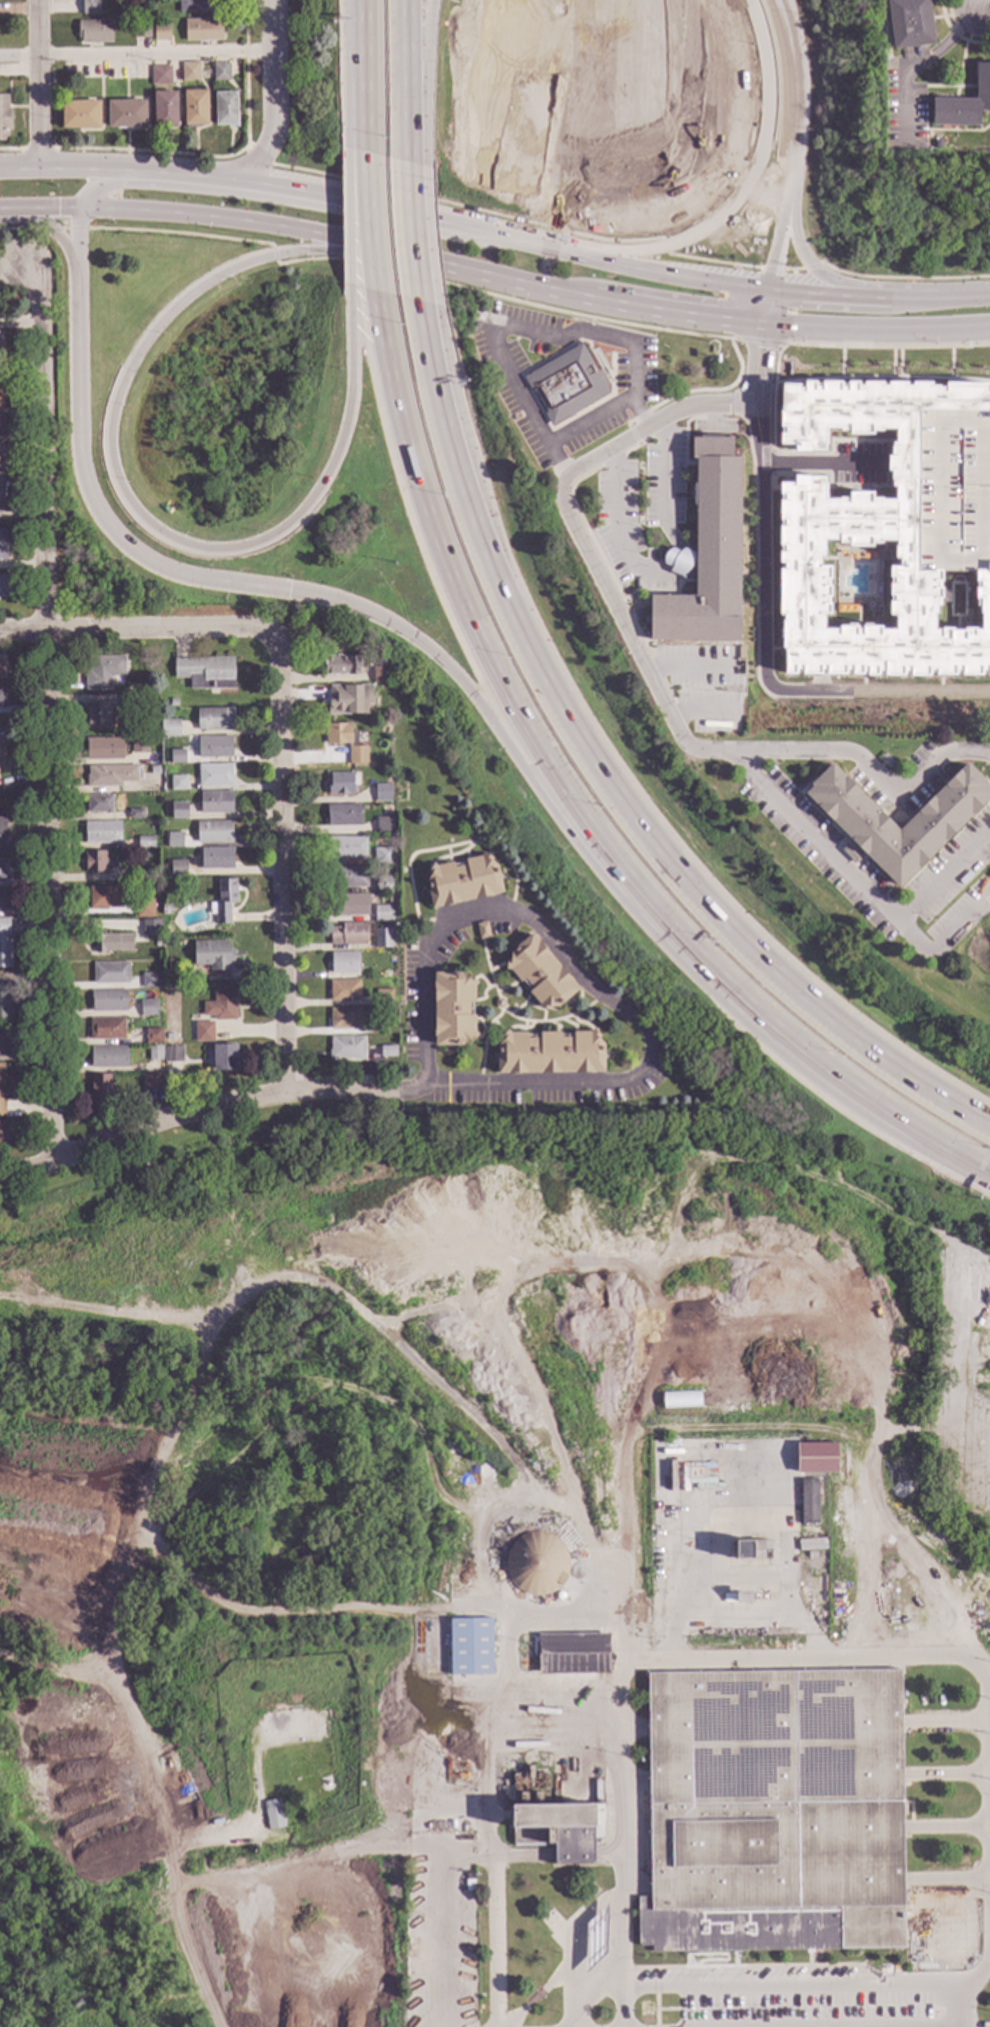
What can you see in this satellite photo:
road: (984, 1)
building: (197, 6)
building: (90, 7)
building: (909, 23)
building: (141, 31)
building: (203, 31)
building: (94, 32)
building: (161, 34)
road: (273, 38)
road: (156, 54)
road: (20, 57)
road: (924, 62)
road: (343, 69)
building: (189, 73)
building: (221, 73)
building: (160, 76)
road: (368, 76)
road: (40, 86)
building: (964, 104)
building: (194, 109)
building: (164, 110)
building: (225, 110)
building: (80, 115)
building: (126, 115)
building: (4, 119)
road: (347, 212)
traffic signals: (78, 213)
road: (373, 222)
road: (443, 222)
road: (383, 254)
road: (807, 267)
road: (904, 278)
traffic signals: (769, 289)
road: (937, 297)
building: (1, 303)
road: (766, 307)
road: (791, 320)
road: (21, 323)
traffic signals: (763, 326)
road: (522, 328)
road: (876, 332)
building: (1, 343)
road: (890, 346)
building: (567, 384)
building: (0, 399)
road: (591, 425)
building: (1, 426)
building: (2, 454)
road: (823, 463)
road: (660, 475)
building: (1, 489)
parking garage: (953, 493)
road: (610, 514)
building: (886, 518)
building: (2, 545)
building: (706, 555)
traffic signals: (304, 584)
building: (2, 587)
road: (125, 627)
road: (762, 654)
building: (341, 665)
building: (1, 668)
road: (642, 669)
building: (103, 673)
building: (205, 673)
building: (380, 673)
road: (683, 674)
building: (397, 683)
building: (1, 699)
building: (348, 699)
building: (128, 701)
building: (173, 703)
road: (44, 715)
building: (96, 716)
road: (696, 718)
building: (214, 720)
building: (169, 729)
building: (345, 741)
building: (150, 742)
building: (138, 746)
building: (214, 747)
building: (103, 749)
building: (177, 757)
building: (1, 760)
building: (154, 771)
road: (872, 771)
building: (111, 776)
building: (215, 776)
building: (161, 782)
building: (178, 784)
building: (128, 785)
building: (339, 785)
building: (381, 793)
building: (215, 803)
road: (579, 804)
building: (99, 805)
building: (179, 812)
building: (943, 813)
building: (135, 815)
building: (343, 816)
road: (556, 823)
building: (383, 826)
building: (2, 831)
building: (102, 833)
building: (213, 833)
building: (174, 840)
building: (145, 843)
building: (346, 848)
road: (282, 850)
building: (382, 857)
building: (216, 859)
building: (94, 862)
building: (177, 868)
building: (2, 870)
building: (141, 874)
road: (940, 877)
building: (347, 878)
building: (462, 881)
building: (383, 885)
building: (104, 898)
building: (2, 902)
building: (224, 902)
building: (348, 906)
building: (144, 909)
building: (165, 911)
building: (382, 914)
building: (151, 930)
building: (482, 931)
building: (349, 935)
building: (383, 939)
building: (112, 944)
building: (4, 946)
building: (179, 951)
building: (213, 957)
building: (344, 963)
building: (110, 973)
building: (539, 974)
road: (583, 976)
building: (150, 981)
building: (344, 991)
building: (383, 997)
building: (107, 1002)
building: (5, 1003)
building: (499, 1004)
building: (220, 1006)
building: (148, 1009)
building: (452, 1009)
building: (344, 1019)
building: (378, 1028)
building: (106, 1029)
building: (203, 1033)
building: (152, 1037)
building: (4, 1041)
building: (346, 1048)
building: (387, 1052)
building: (154, 1054)
building: (549, 1054)
building: (173, 1055)
building: (224, 1057)
building: (108, 1058)
building: (152, 1082)
building: (3, 1089)
building: (101, 1090)
road: (208, 1109)
building: (3, 1135)
building: (816, 1457)
building: (699, 1476)
building: (809, 1501)
road: (890, 1534)
building: (752, 1550)
building: (811, 1555)
building: (535, 1564)
building: (743, 1599)
building: (470, 1647)
building: (572, 1654)
road: (809, 1657)
road: (947, 1722)
road: (948, 1774)
building: (294, 1804)
building: (774, 1812)
building: (273, 1816)
road: (950, 1828)
building: (558, 1830)
road: (573, 1854)
road: (608, 1854)
road: (461, 1857)
road: (303, 1860)
building: (468, 1875)
road: (948, 1879)
building: (468, 1886)
road: (175, 1896)
building: (481, 1903)
road: (490, 1909)
road: (436, 1936)
road: (765, 1987)
road: (623, 2009)

